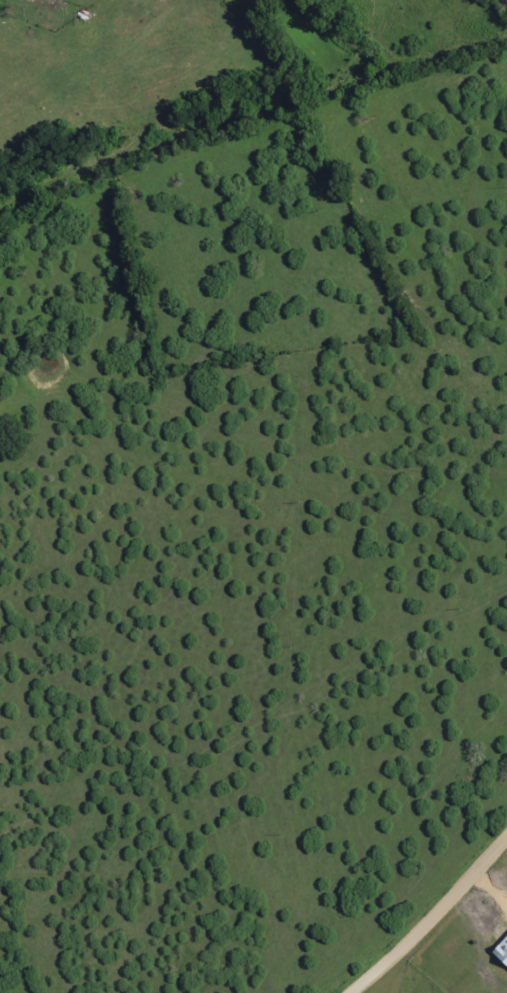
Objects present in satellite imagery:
road: (432, 919)
building: (500, 952)

